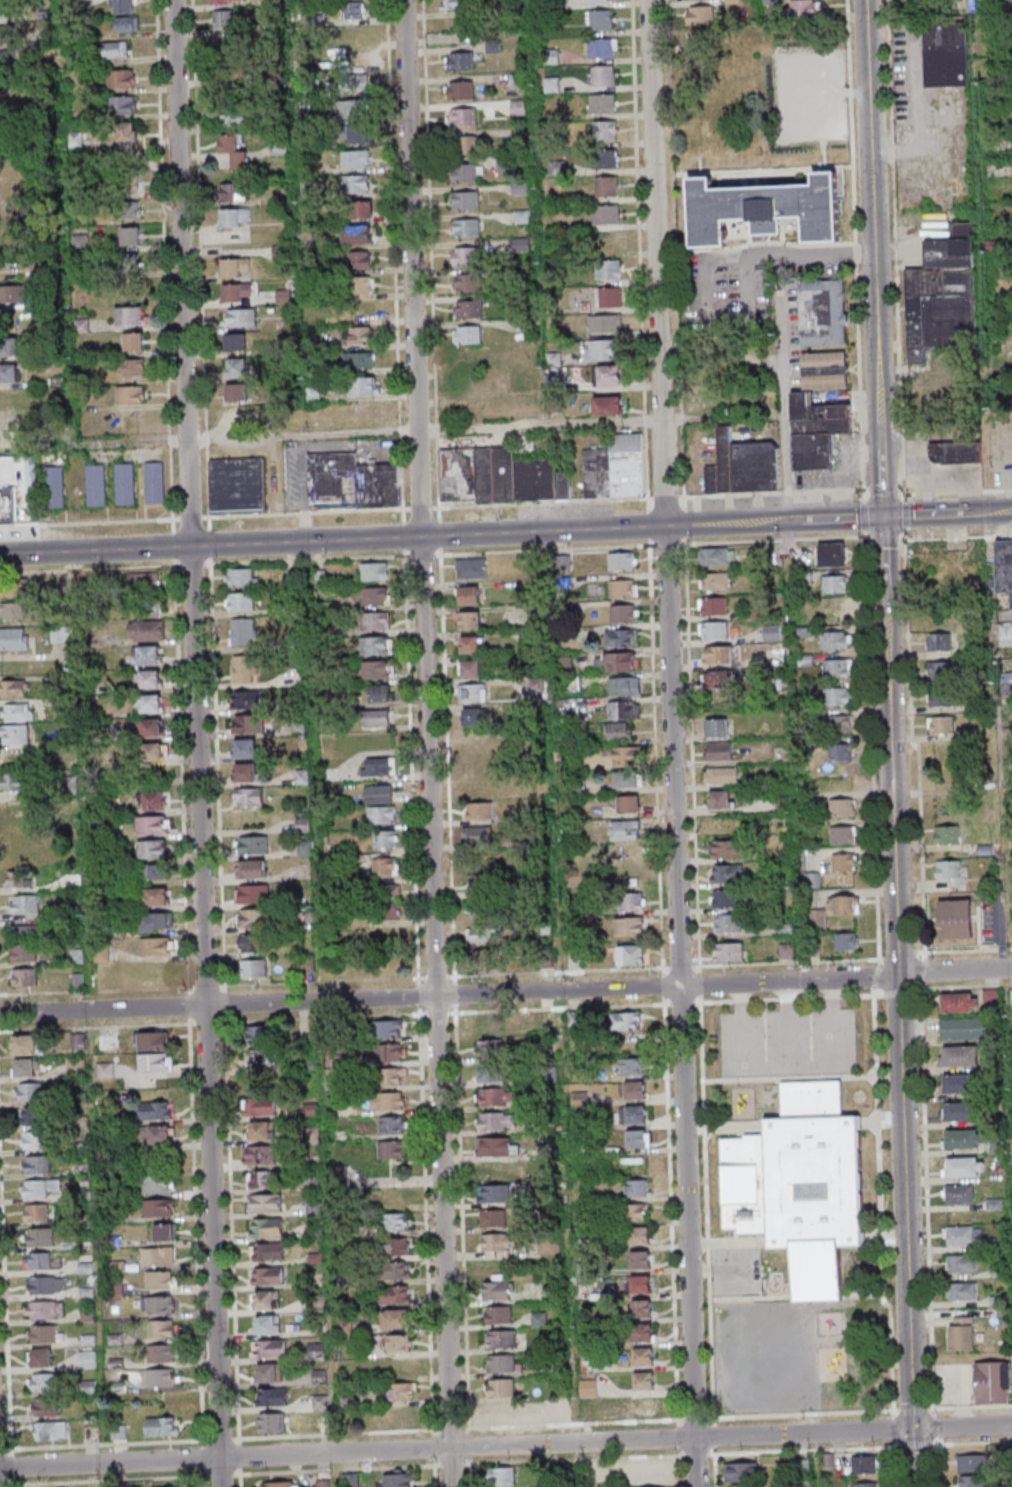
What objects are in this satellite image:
building: (227, 1)
building: (599, 1)
building: (457, 4)
building: (124, 6)
building: (9, 9)
building: (805, 9)
building: (353, 10)
building: (700, 14)
building: (601, 19)
building: (225, 20)
building: (128, 24)
building: (11, 34)
building: (603, 47)
building: (114, 50)
building: (946, 53)
building: (459, 60)
building: (10, 61)
building: (357, 61)
building: (603, 75)
building: (121, 79)
building: (232, 79)
building: (357, 82)
building: (552, 84)
building: (459, 89)
building: (604, 103)
building: (121, 106)
building: (353, 110)
building: (464, 116)
building: (235, 117)
building: (605, 131)
building: (125, 133)
building: (354, 135)
building: (469, 144)
building: (234, 151)
building: (606, 158)
building: (355, 160)
building: (467, 172)
building: (128, 180)
building: (356, 184)
building: (606, 185)
building: (235, 192)
building: (464, 199)
building: (765, 208)
building: (130, 209)
building: (362, 209)
building: (607, 213)
building: (234, 217)
building: (466, 227)
building: (357, 233)
building: (131, 237)
road: (834, 250)
building: (466, 255)
road: (203, 258)
road: (874, 258)
building: (360, 259)
building: (130, 263)
building: (236, 267)
building: (608, 268)
road: (168, 278)
building: (467, 282)
building: (363, 285)
building: (236, 293)
building: (12, 295)
building: (943, 295)
building: (609, 296)
building: (468, 308)
building: (361, 310)
building: (823, 312)
building: (130, 317)
building: (241, 318)
building: (605, 323)
road: (732, 323)
building: (467, 334)
building: (361, 335)
building: (134, 342)
building: (236, 342)
building: (9, 347)
building: (602, 349)
building: (359, 360)
building: (237, 367)
building: (133, 368)
building: (824, 369)
building: (9, 373)
building: (610, 374)
building: (364, 386)
building: (237, 392)
building: (130, 395)
building: (714, 401)
building: (607, 405)
building: (816, 430)
building: (10, 431)
road: (394, 432)
building: (955, 452)
building: (743, 465)
building: (616, 468)
building: (499, 476)
building: (351, 482)
building: (154, 483)
building: (125, 484)
building: (95, 485)
building: (238, 486)
building: (54, 487)
road: (958, 490)
building: (5, 509)
road: (312, 513)
road: (947, 514)
road: (906, 516)
traffic signals: (882, 517)
road: (776, 521)
road: (433, 536)
road: (960, 537)
road: (97, 550)
building: (831, 554)
building: (717, 555)
building: (623, 560)
building: (1004, 566)
building: (471, 568)
road: (112, 569)
building: (375, 571)
building: (240, 578)
building: (715, 581)
building: (835, 583)
building: (624, 587)
building: (144, 593)
building: (468, 594)
building: (375, 595)
building: (240, 602)
building: (713, 606)
building: (14, 610)
building: (624, 612)
building: (836, 612)
building: (375, 620)
building: (470, 620)
building: (714, 630)
building: (147, 632)
building: (243, 632)
building: (772, 632)
building: (1004, 633)
building: (62, 634)
building: (621, 637)
building: (14, 638)
building: (836, 640)
building: (939, 641)
building: (470, 644)
building: (377, 645)
building: (718, 654)
building: (147, 656)
building: (617, 661)
building: (471, 668)
building: (838, 668)
building: (377, 669)
building: (942, 669)
building: (244, 670)
building: (720, 678)
building: (150, 679)
building: (1006, 681)
building: (624, 685)
building: (537, 686)
building: (13, 688)
building: (380, 692)
building: (472, 693)
building: (837, 695)
building: (943, 698)
building: (248, 701)
building: (149, 704)
building: (623, 709)
building: (17, 712)
building: (376, 716)
building: (472, 717)
building: (840, 723)
building: (941, 724)
building: (247, 725)
building: (716, 727)
building: (151, 728)
building: (620, 730)
building: (14, 734)
road: (201, 743)
road: (433, 743)
road: (678, 743)
road: (890, 746)
building: (245, 750)
building: (719, 751)
building: (840, 751)
building: (154, 753)
road: (659, 753)
building: (627, 755)
building: (378, 766)
road: (320, 771)
building: (246, 773)
building: (721, 774)
building: (626, 778)
building: (13, 782)
building: (379, 794)
building: (248, 797)
building: (719, 799)
building: (153, 801)
building: (628, 803)
building: (17, 806)
building: (841, 807)
building: (479, 812)
building: (382, 814)
building: (152, 825)
building: (626, 829)
building: (843, 834)
building: (946, 834)
building: (477, 835)
building: (385, 838)
building: (253, 846)
building: (725, 848)
building: (152, 850)
building: (629, 853)
building: (844, 862)
building: (385, 866)
building: (948, 869)
building: (251, 870)
building: (153, 872)
building: (726, 873)
building: (813, 879)
building: (17, 880)
building: (481, 885)
building: (253, 894)
building: (155, 898)
building: (725, 898)
building: (631, 901)
building: (385, 902)
building: (24, 905)
building: (479, 909)
building: (832, 910)
building: (253, 919)
building: (955, 919)
building: (157, 922)
building: (729, 923)
building: (629, 926)
building: (28, 933)
building: (481, 934)
building: (846, 941)
building: (253, 942)
building: (156, 946)
building: (729, 951)
building: (22, 953)
building: (632, 954)
building: (254, 967)
road: (955, 972)
building: (24, 977)
road: (792, 981)
road: (342, 1000)
building: (960, 1002)
building: (574, 1018)
building: (547, 1020)
building: (626, 1021)
building: (487, 1025)
building: (387, 1029)
building: (961, 1029)
building: (261, 1036)
building: (77, 1040)
building: (109, 1041)
building: (157, 1044)
building: (28, 1048)
building: (490, 1048)
building: (390, 1052)
building: (960, 1055)
building: (260, 1059)
building: (158, 1065)
building: (76, 1067)
building: (637, 1068)
building: (29, 1070)
building: (106, 1070)
building: (496, 1074)
building: (394, 1076)
building: (958, 1083)
building: (639, 1092)
building: (34, 1094)
building: (496, 1097)
building: (390, 1100)
building: (260, 1107)
building: (959, 1111)
building: (164, 1113)
building: (640, 1118)
building: (38, 1119)
building: (496, 1122)
building: (392, 1124)
building: (261, 1131)
building: (161, 1138)
building: (964, 1138)
building: (641, 1141)
building: (41, 1142)
building: (495, 1146)
building: (392, 1149)
building: (265, 1158)
building: (964, 1166)
building: (41, 1167)
building: (341, 1175)
building: (263, 1179)
building: (801, 1185)
building: (161, 1186)
building: (641, 1189)
building: (39, 1191)
building: (495, 1193)
building: (959, 1193)
road: (906, 1202)
building: (266, 1203)
building: (162, 1210)
building: (639, 1214)
building: (39, 1215)
building: (492, 1217)
building: (397, 1221)
building: (266, 1227)
building: (165, 1233)
building: (962, 1235)
building: (644, 1238)
building: (45, 1240)
building: (497, 1241)
building: (397, 1245)
road: (710, 1245)
building: (549, 1247)
building: (267, 1251)
building: (162, 1259)
building: (644, 1261)
building: (42, 1263)
building: (961, 1263)
building: (398, 1270)
building: (269, 1276)
building: (162, 1283)
building: (46, 1286)
building: (645, 1286)
building: (498, 1290)
building: (962, 1290)
building: (396, 1295)
building: (268, 1300)
building: (163, 1307)
building: (646, 1311)
building: (46, 1313)
building: (498, 1314)
building: (396, 1318)
building: (268, 1325)
building: (164, 1332)
building: (962, 1333)
building: (647, 1335)
building: (47, 1336)
building: (502, 1338)
building: (399, 1343)
building: (271, 1350)
building: (316, 1351)
building: (41, 1357)
building: (164, 1357)
building: (648, 1360)
building: (501, 1364)
building: (401, 1368)
building: (269, 1374)
building: (165, 1381)
building: (992, 1382)
building: (648, 1383)
building: (47, 1384)
building: (588, 1387)
building: (501, 1389)
building: (400, 1392)
building: (273, 1398)
building: (45, 1407)
building: (644, 1409)
building: (502, 1412)
building: (400, 1417)
building: (271, 1423)
building: (162, 1426)
traffic signals: (914, 1429)
building: (51, 1430)
building: (118, 1433)
road: (152, 1443)
road: (505, 1445)
road: (7, 1449)
road: (437, 1458)
road: (914, 1458)
building: (973, 1463)
building: (863, 1464)
building: (741, 1471)
building: (592, 1472)
building: (653, 1472)
road: (231, 1475)
building: (505, 1478)
building: (350, 1480)
building: (398, 1480)
building: (974, 1481)
road: (208, 1482)
building: (280, 1484)
building: (866, 1484)
building: (744, 1485)

